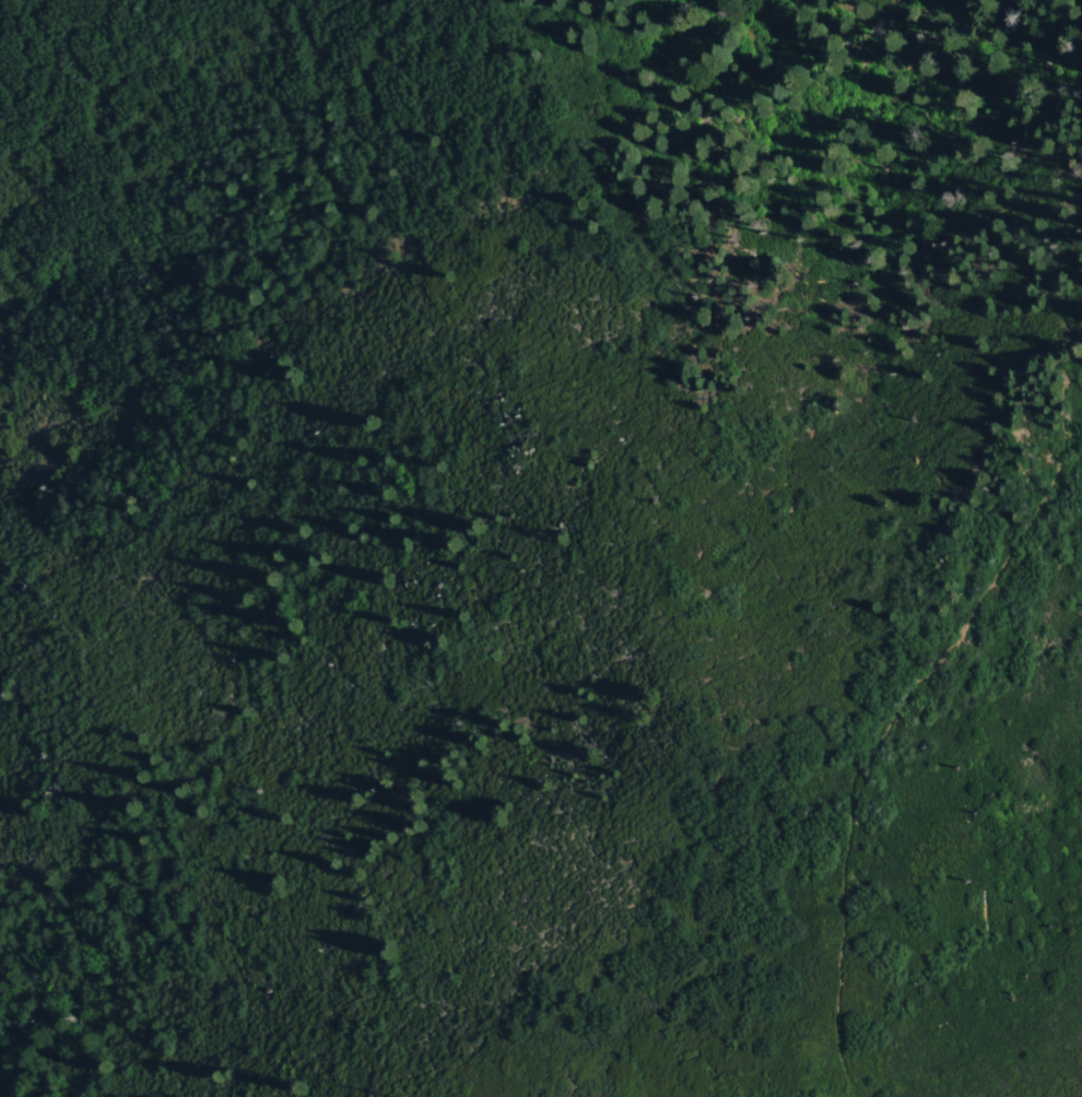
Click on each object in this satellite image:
road: (851, 205)
road: (908, 694)

